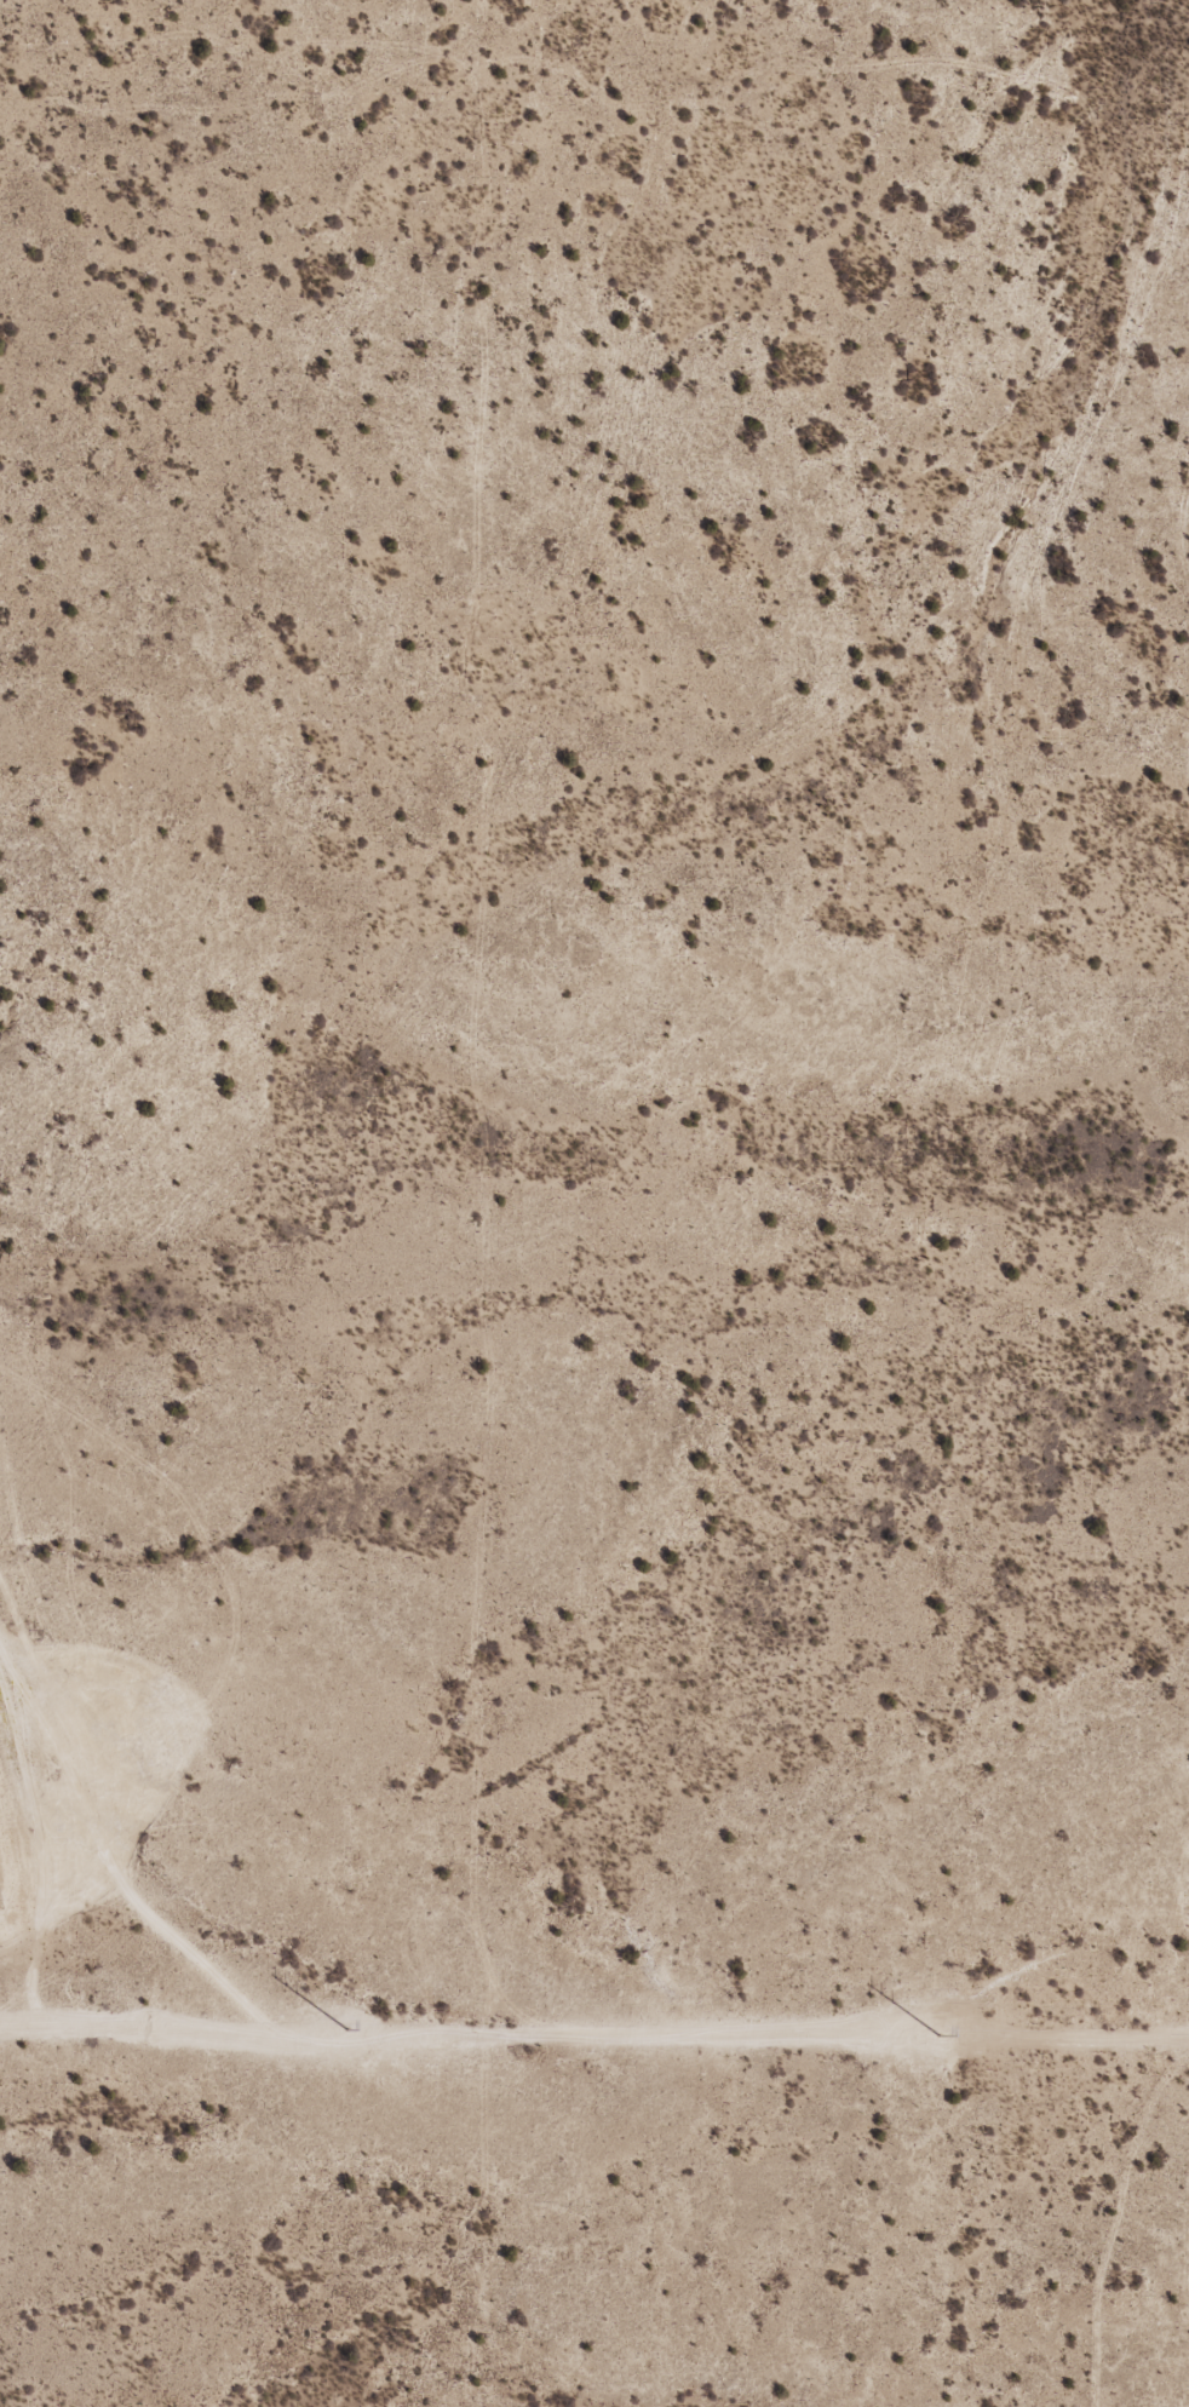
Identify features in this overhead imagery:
power tower: (326, 2033)
power tower: (924, 2039)

